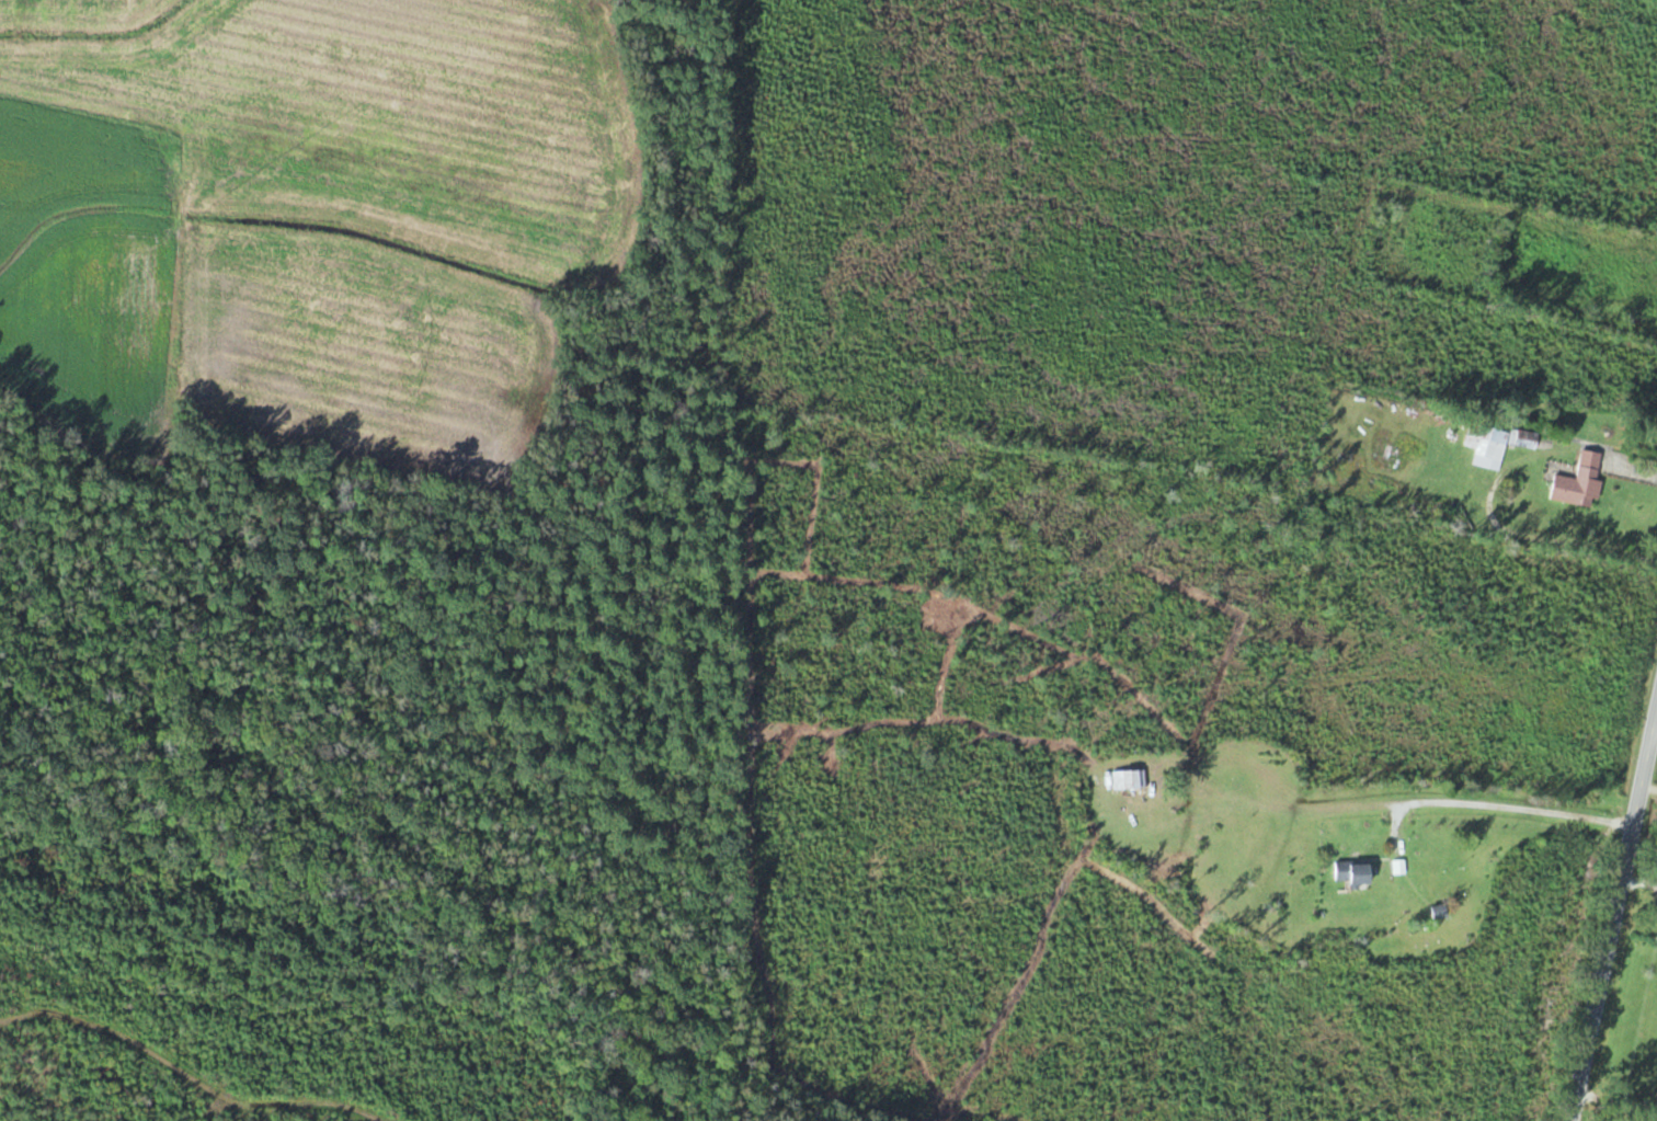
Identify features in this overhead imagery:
building: (1488, 441)
building: (1580, 482)
building: (1130, 780)
building: (1355, 873)
river: (382, 884)
building: (1440, 911)
road: (1613, 911)

